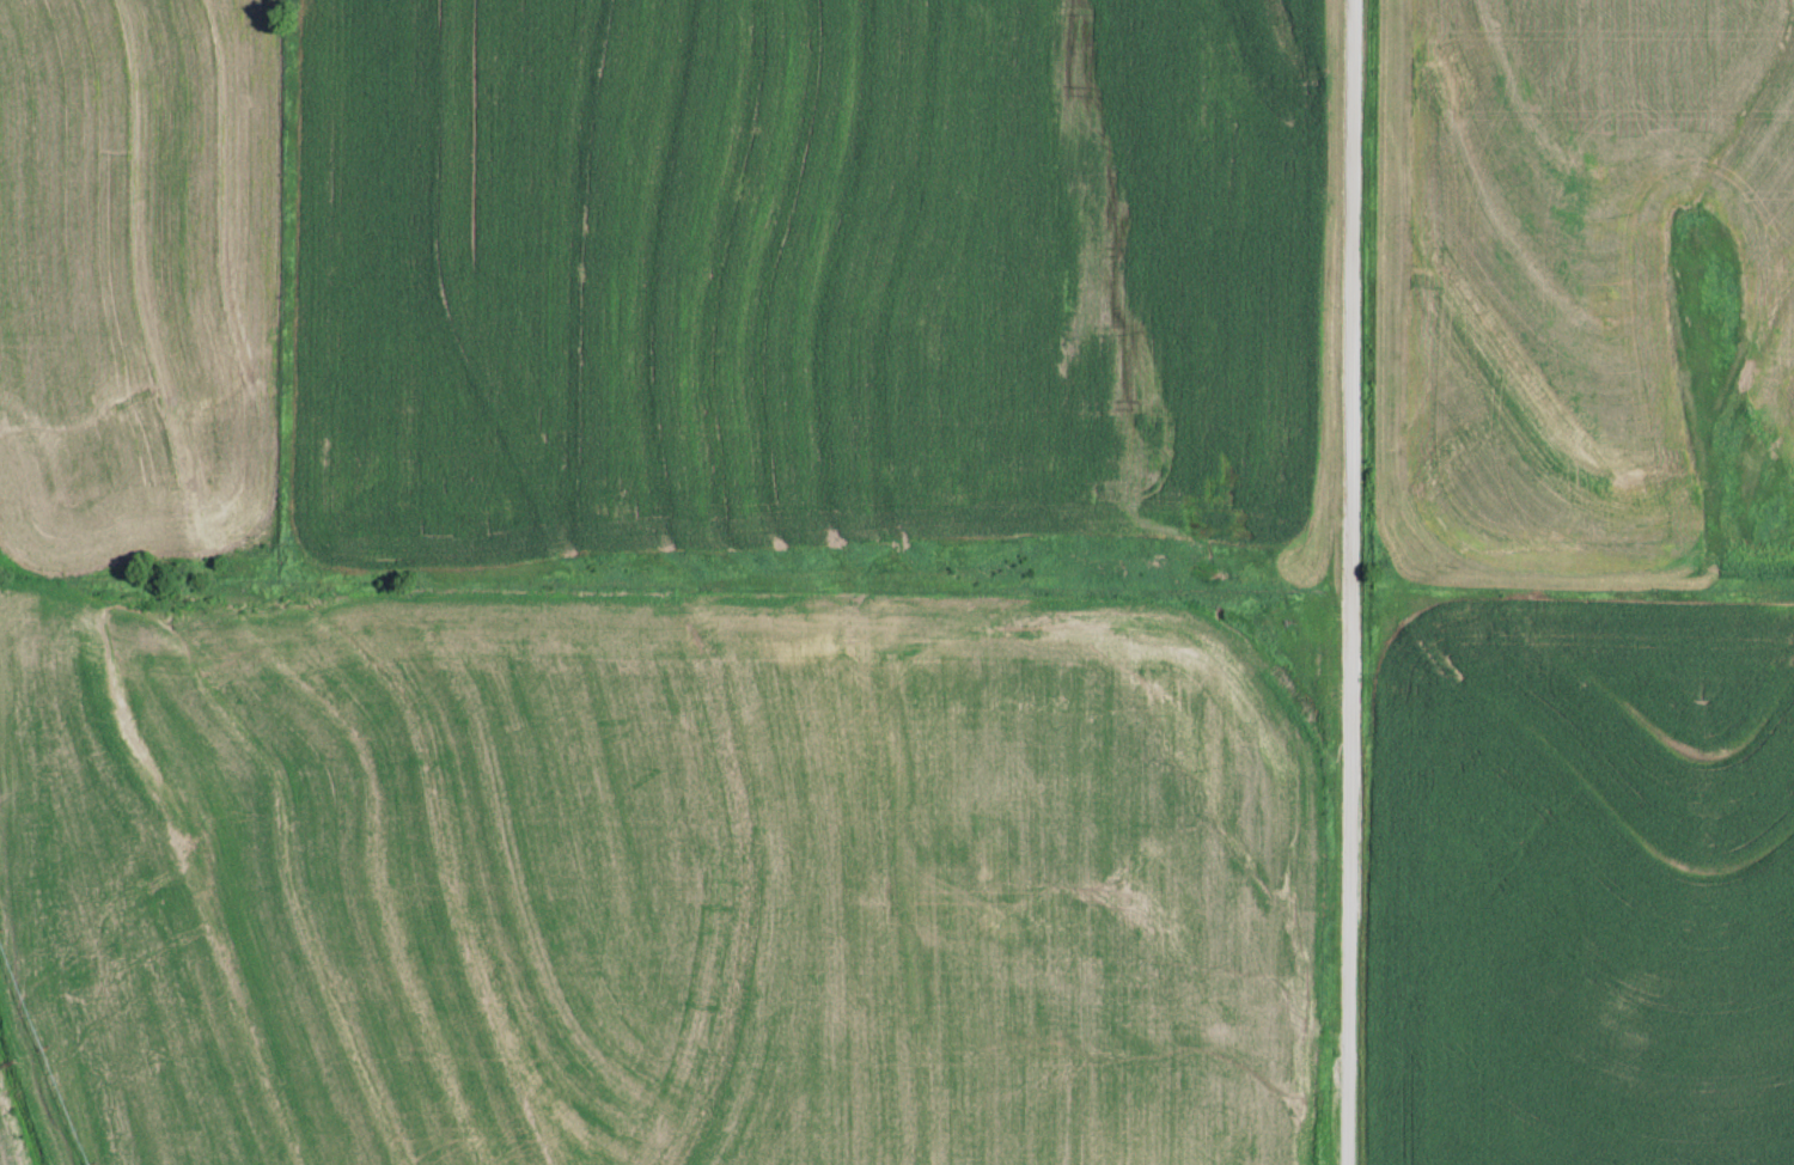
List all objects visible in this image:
road: (1349, 582)

